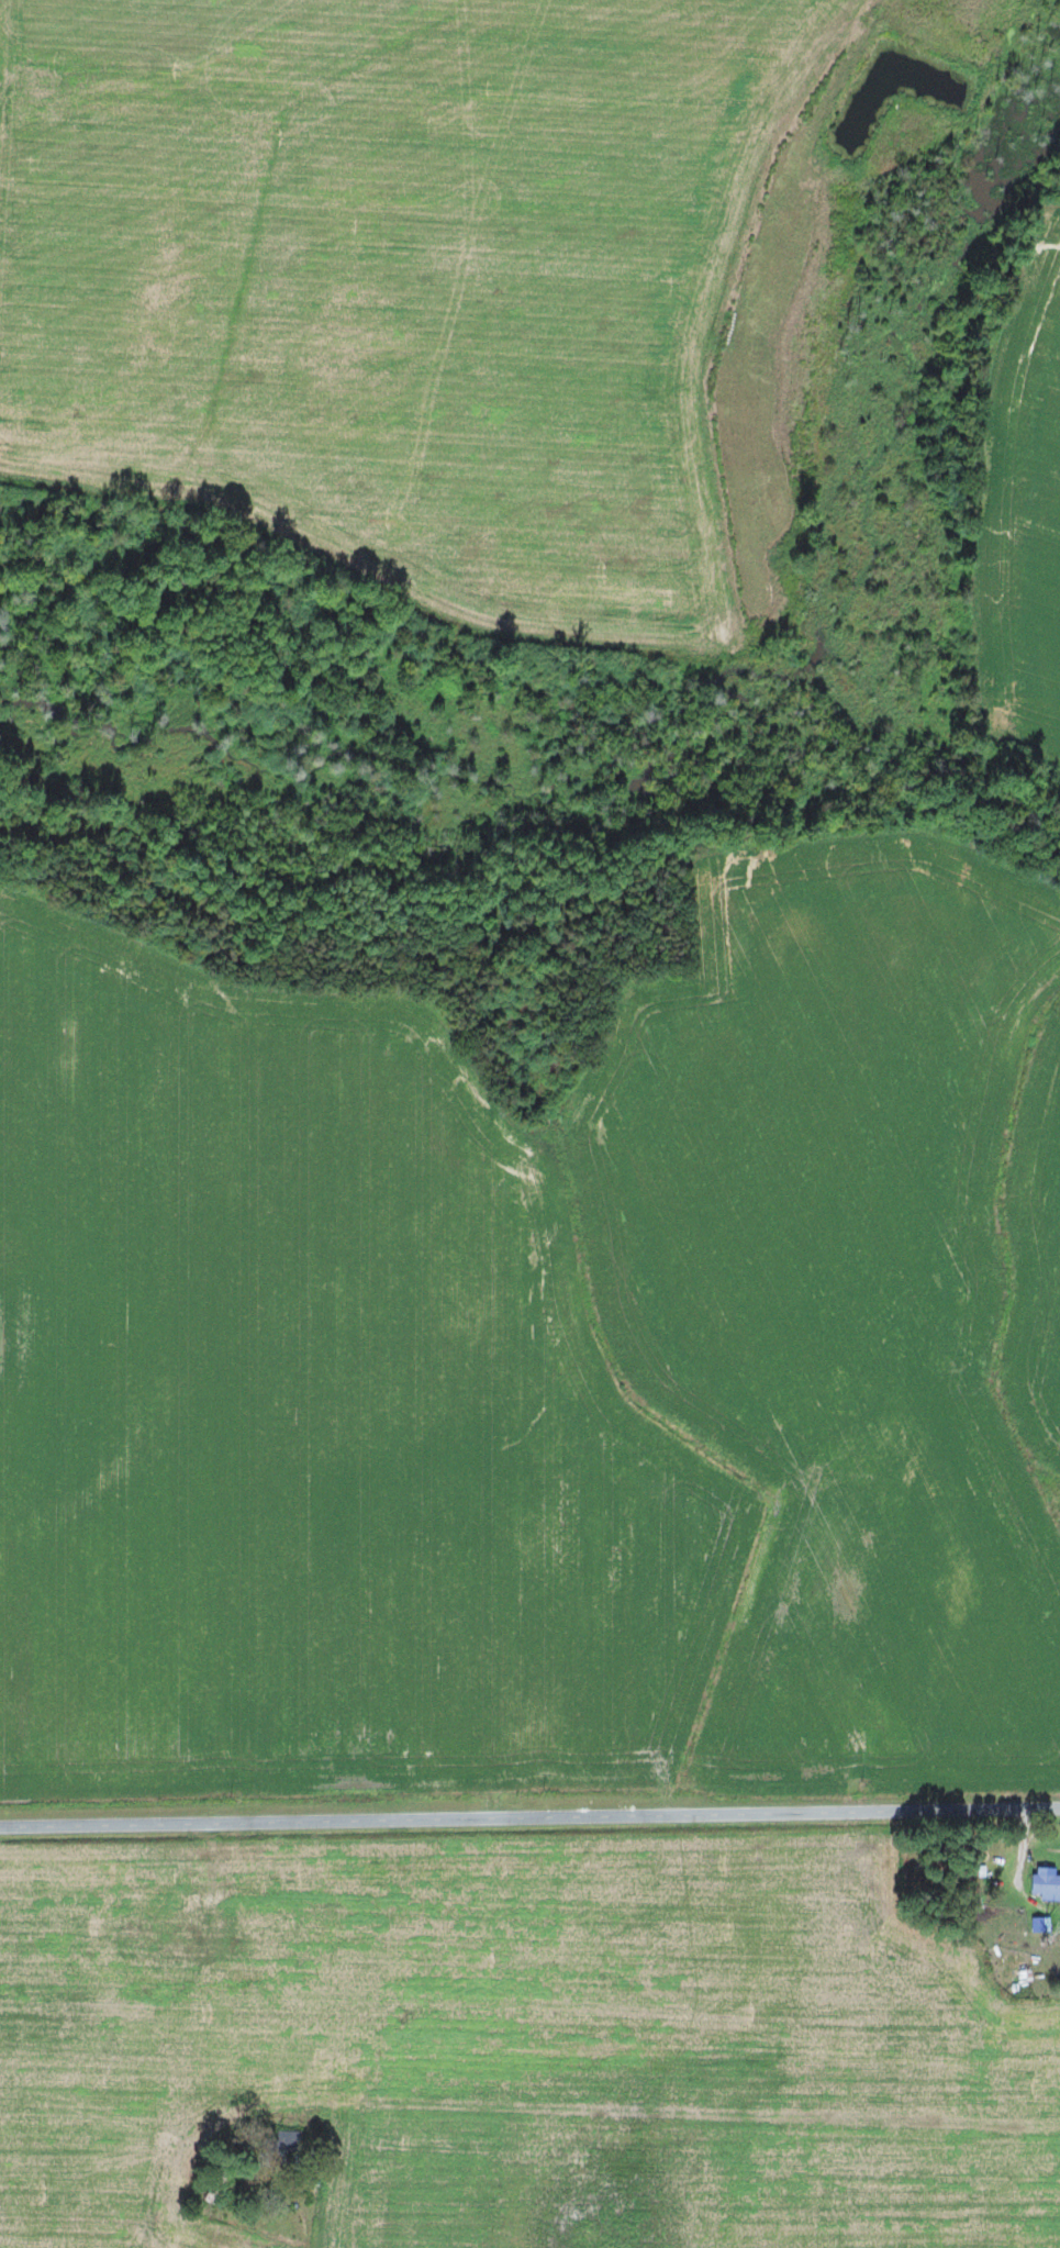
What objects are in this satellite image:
road: (529, 1819)
building: (1048, 1882)
building: (1042, 1924)

